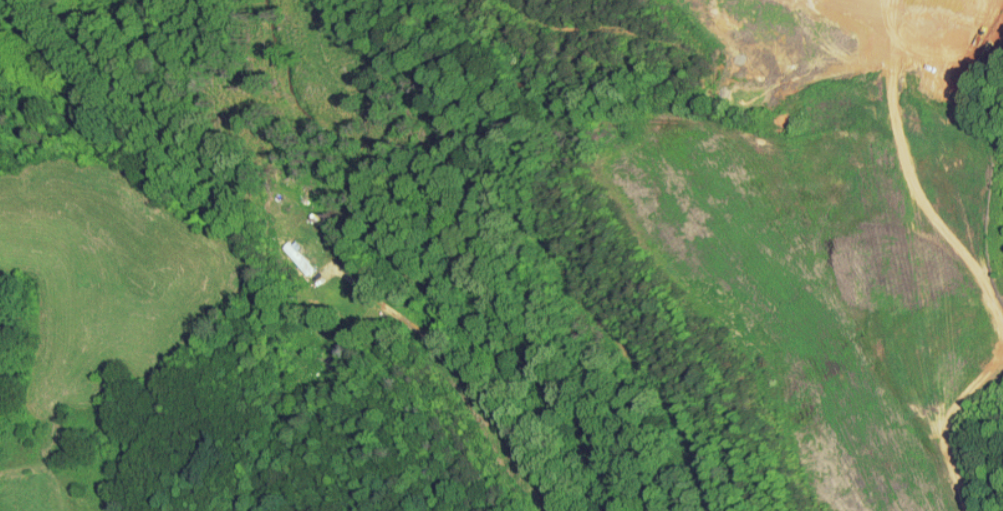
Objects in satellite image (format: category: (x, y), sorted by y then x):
road: (468, 375)

